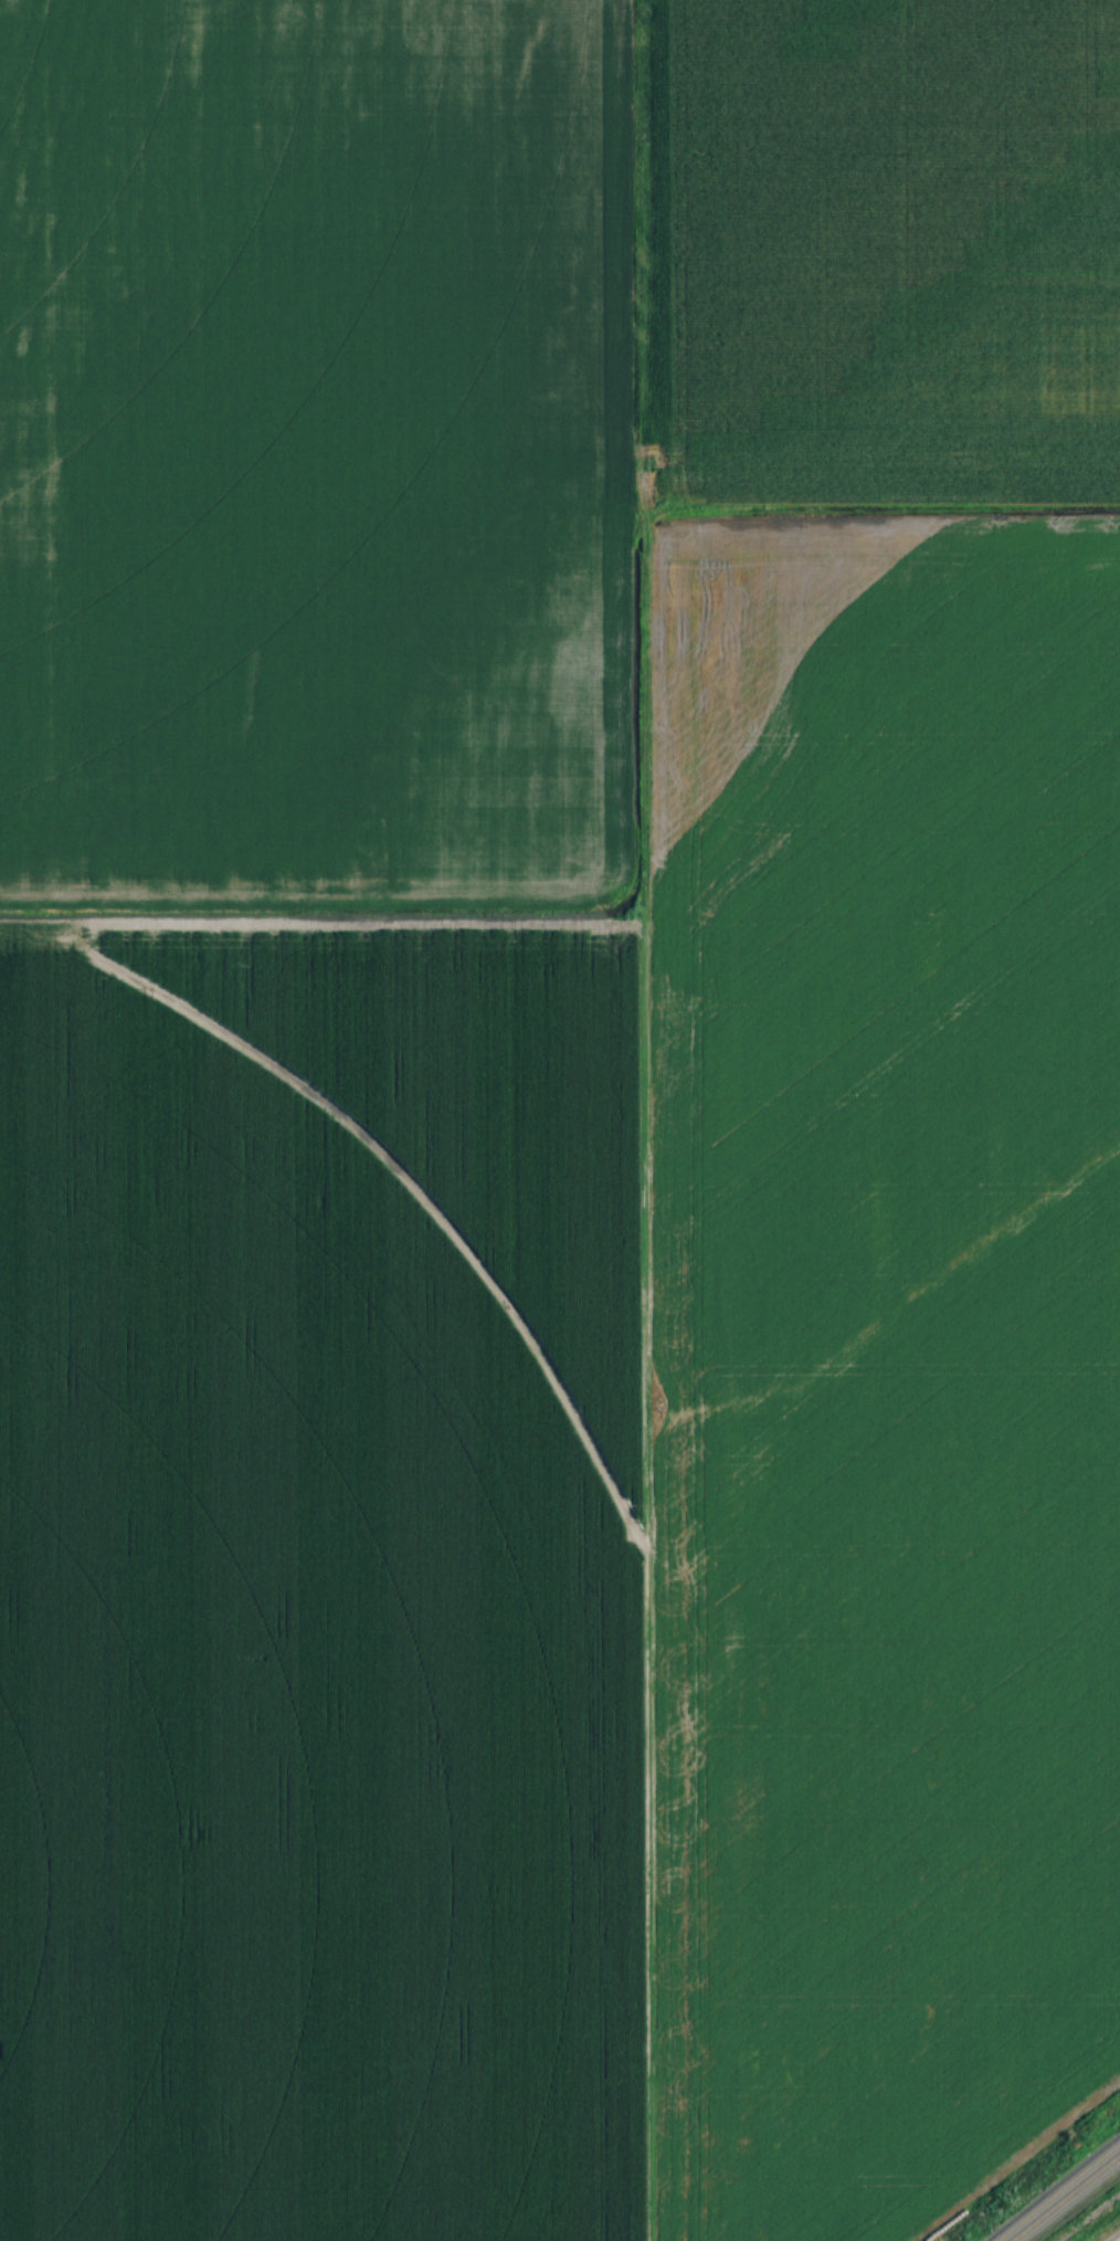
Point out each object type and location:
railway: (1058, 2191)
railway: (1067, 2198)

